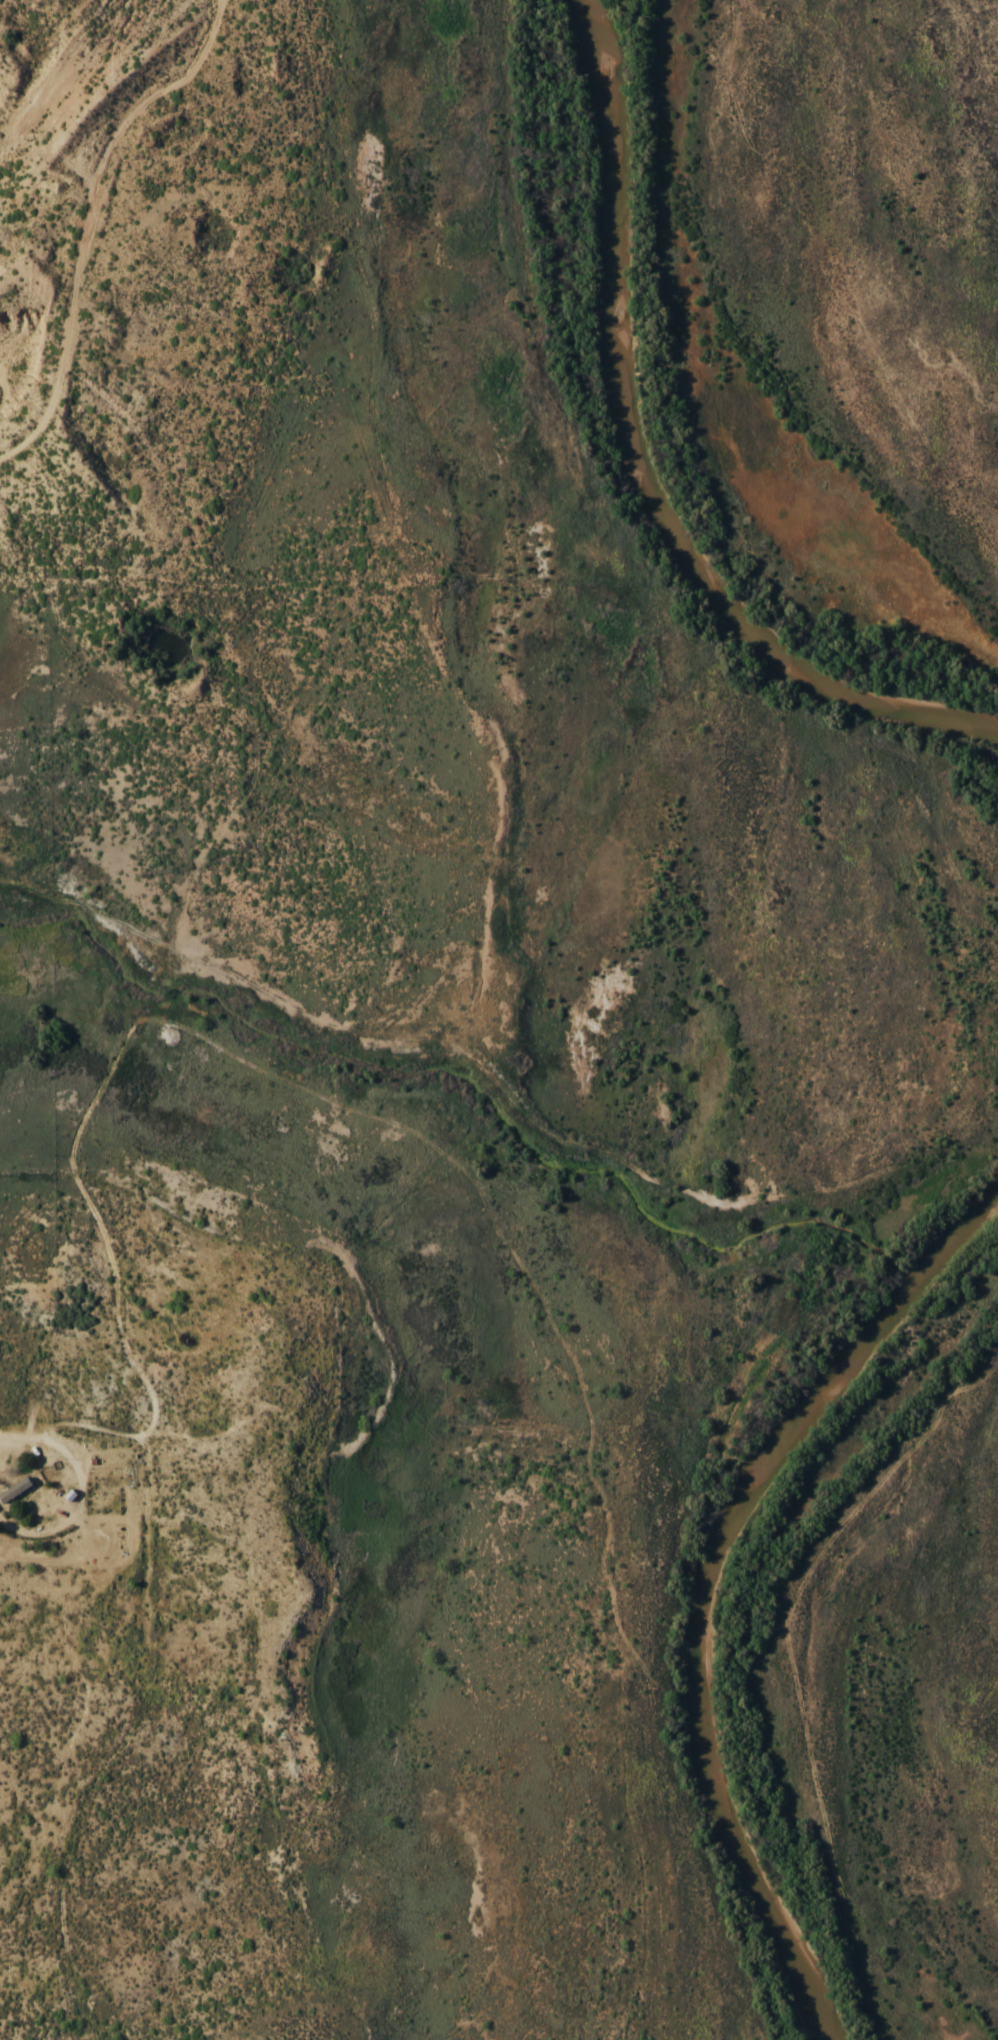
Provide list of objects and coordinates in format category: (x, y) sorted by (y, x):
river: (645, 467)
building: (15, 1490)
river: (704, 1579)

